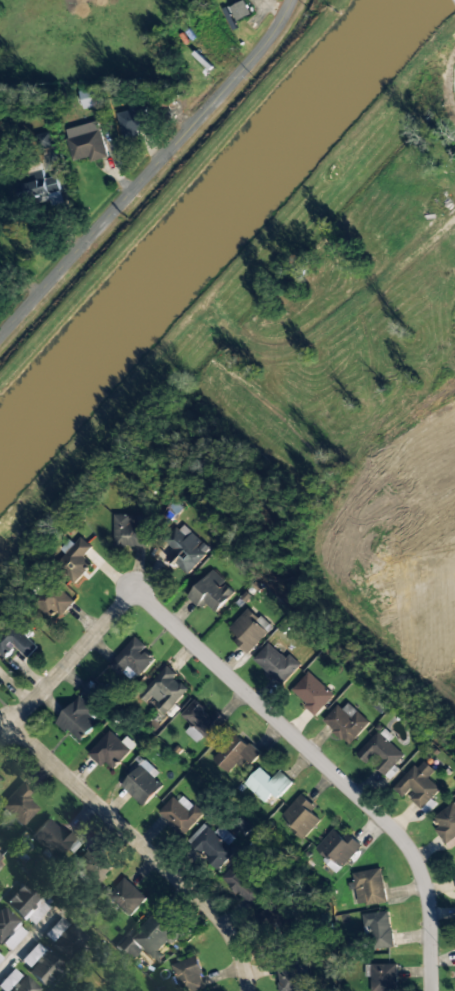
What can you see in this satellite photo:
building: (240, 10)
building: (91, 98)
building: (168, 101)
building: (133, 122)
building: (45, 140)
building: (85, 146)
road: (148, 171)
building: (39, 186)
building: (129, 530)
building: (185, 549)
building: (74, 561)
building: (210, 592)
building: (54, 601)
building: (248, 631)
building: (14, 640)
building: (131, 661)
building: (275, 662)
building: (163, 690)
building: (311, 693)
building: (77, 719)
building: (200, 721)
road: (20, 722)
building: (345, 722)
building: (109, 752)
building: (235, 752)
building: (380, 754)
road: (328, 768)
building: (267, 784)
building: (417, 784)
building: (141, 785)
building: (18, 804)
building: (179, 815)
building: (301, 816)
building: (446, 823)
building: (50, 838)
building: (211, 847)
building: (336, 848)
building: (0, 858)
building: (91, 866)
building: (454, 877)
building: (244, 882)
building: (369, 887)
building: (125, 897)
building: (22, 900)
road: (208, 908)
building: (277, 920)
building: (5, 922)
building: (55, 929)
building: (378, 929)
building: (155, 934)
building: (66, 941)
building: (126, 948)
building: (1, 957)
building: (40, 964)
building: (290, 974)
building: (188, 975)
building: (381, 977)
building: (16, 983)
building: (119, 990)

